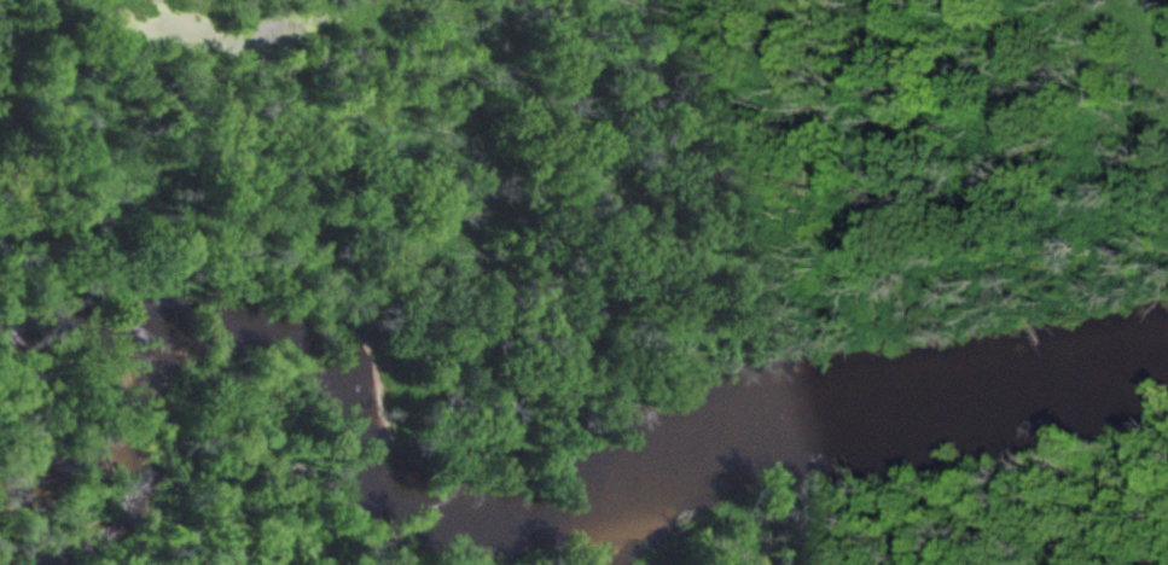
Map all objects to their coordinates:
park: (597, 181)
river: (548, 512)

